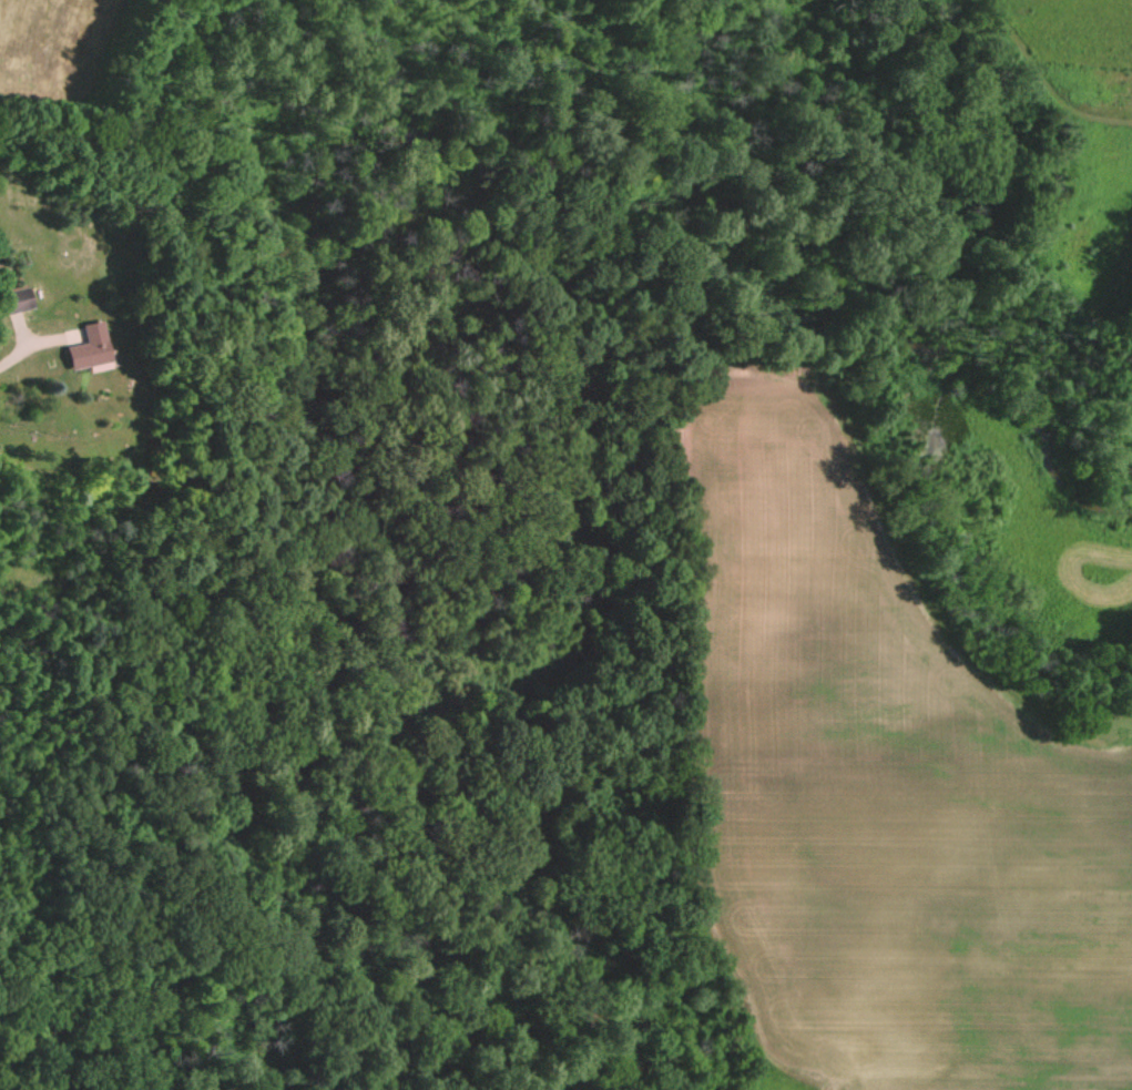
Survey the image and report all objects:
building: (16, 298)
road: (27, 346)
building: (85, 347)

